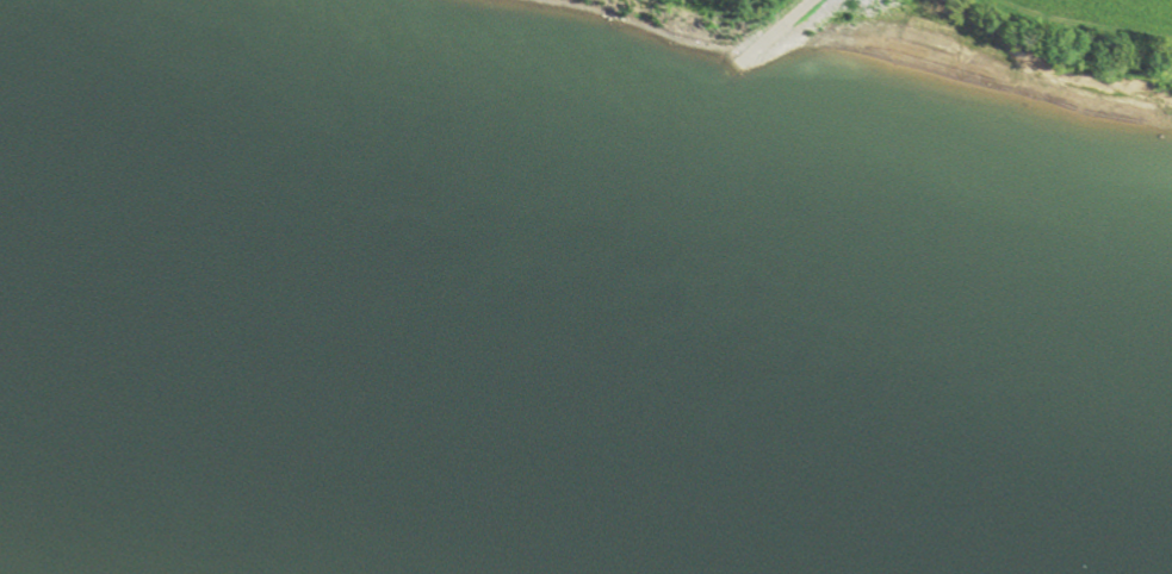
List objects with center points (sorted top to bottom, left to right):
river: (585, 374)

